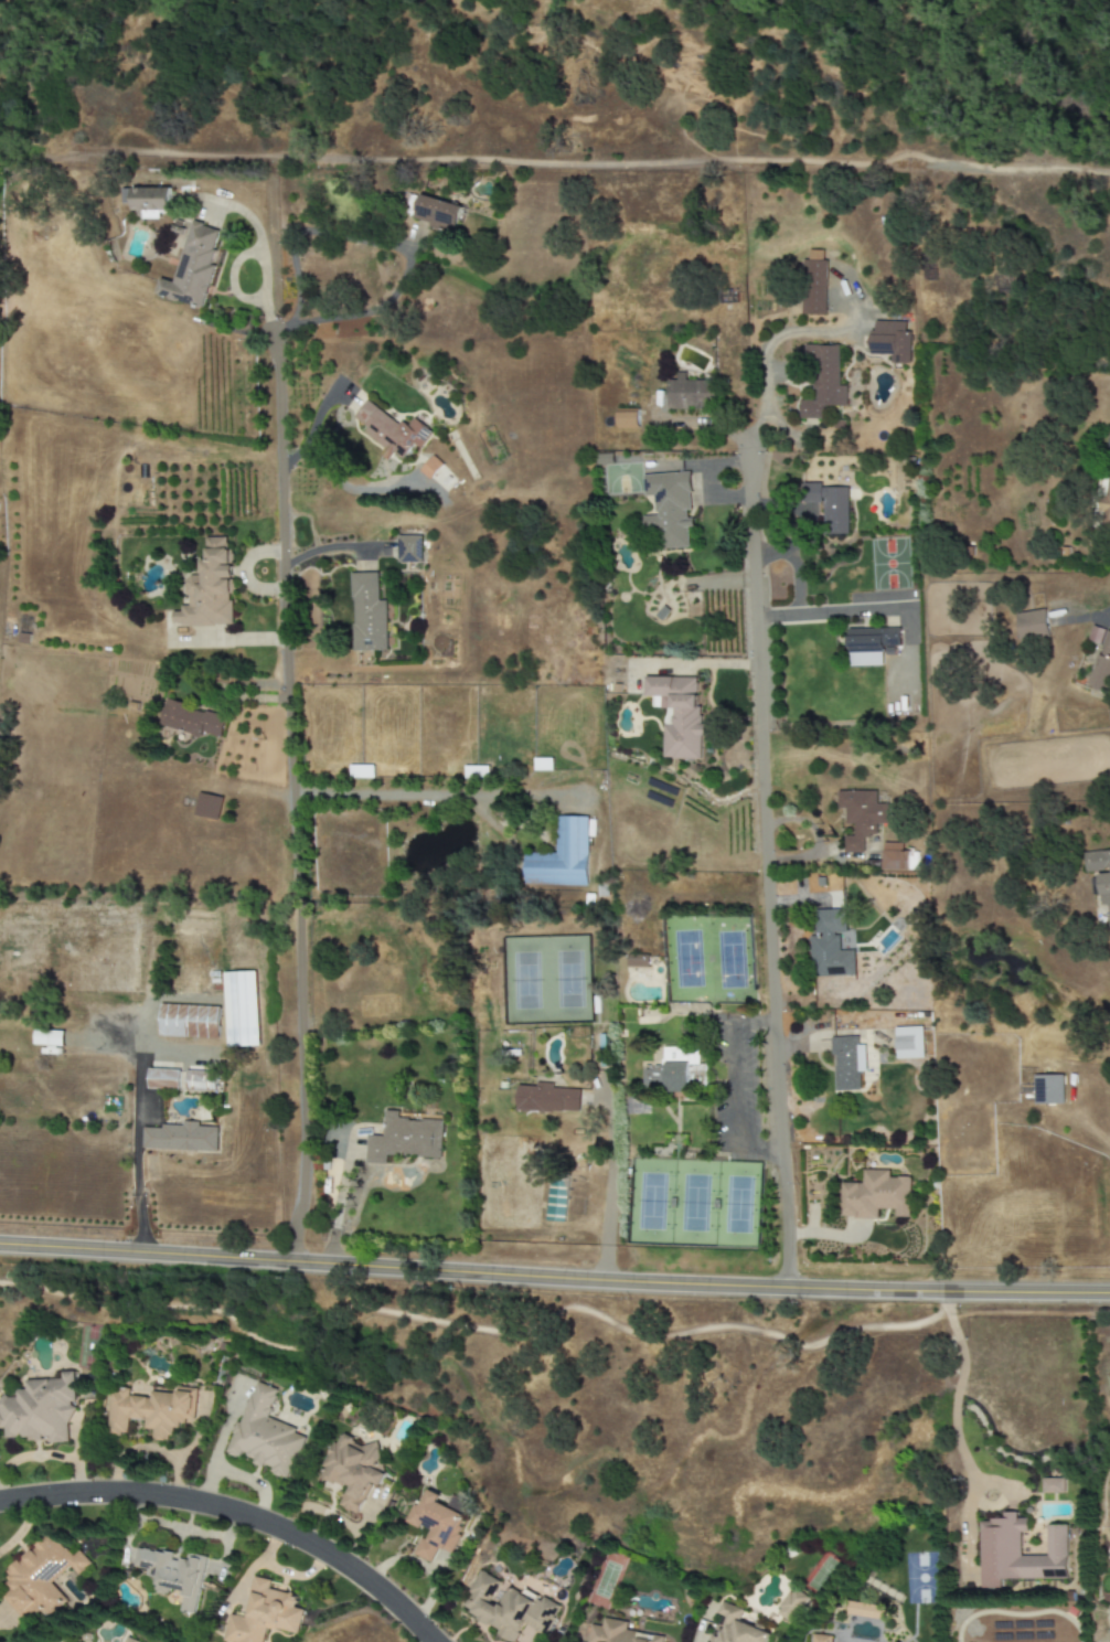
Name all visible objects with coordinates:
building: (148, 201)
building: (437, 213)
road: (391, 245)
building: (192, 268)
building: (813, 284)
road: (778, 333)
building: (890, 341)
building: (823, 382)
building: (690, 394)
road: (314, 418)
building: (628, 419)
building: (391, 430)
building: (430, 468)
building: (1102, 503)
building: (829, 507)
building: (669, 509)
road: (334, 548)
building: (409, 550)
road: (792, 567)
road: (243, 571)
building: (209, 589)
building: (367, 614)
road: (833, 614)
building: (1032, 625)
building: (871, 646)
building: (1101, 660)
building: (677, 714)
building: (192, 719)
building: (361, 771)
road: (435, 796)
road: (292, 802)
building: (207, 806)
building: (861, 817)
building: (561, 856)
building: (894, 857)
road: (764, 862)
building: (914, 862)
building: (1100, 874)
building: (845, 940)
building: (829, 946)
park: (707, 958)
building: (638, 960)
park: (545, 979)
building: (241, 1010)
building: (189, 1022)
building: (49, 1037)
building: (908, 1043)
building: (846, 1063)
building: (676, 1070)
building: (163, 1079)
building: (199, 1080)
building: (1048, 1089)
road: (733, 1090)
building: (546, 1099)
road: (138, 1109)
building: (180, 1138)
building: (404, 1139)
road: (353, 1147)
road: (392, 1177)
road: (609, 1180)
road: (351, 1195)
building: (875, 1195)
building: (556, 1201)
park: (693, 1203)
road: (331, 1245)
road: (554, 1278)
road: (489, 1330)
building: (40, 1410)
building: (152, 1411)
road: (954, 1418)
building: (266, 1435)
building: (354, 1470)
building: (1054, 1485)
road: (235, 1513)
building: (437, 1525)
building: (1018, 1553)
building: (173, 1575)
building: (40, 1579)
building: (792, 1606)
building: (506, 1607)
building: (866, 1610)
building: (264, 1614)
building: (735, 1628)
building: (619, 1633)
building: (822, 1639)
building: (129, 1640)

